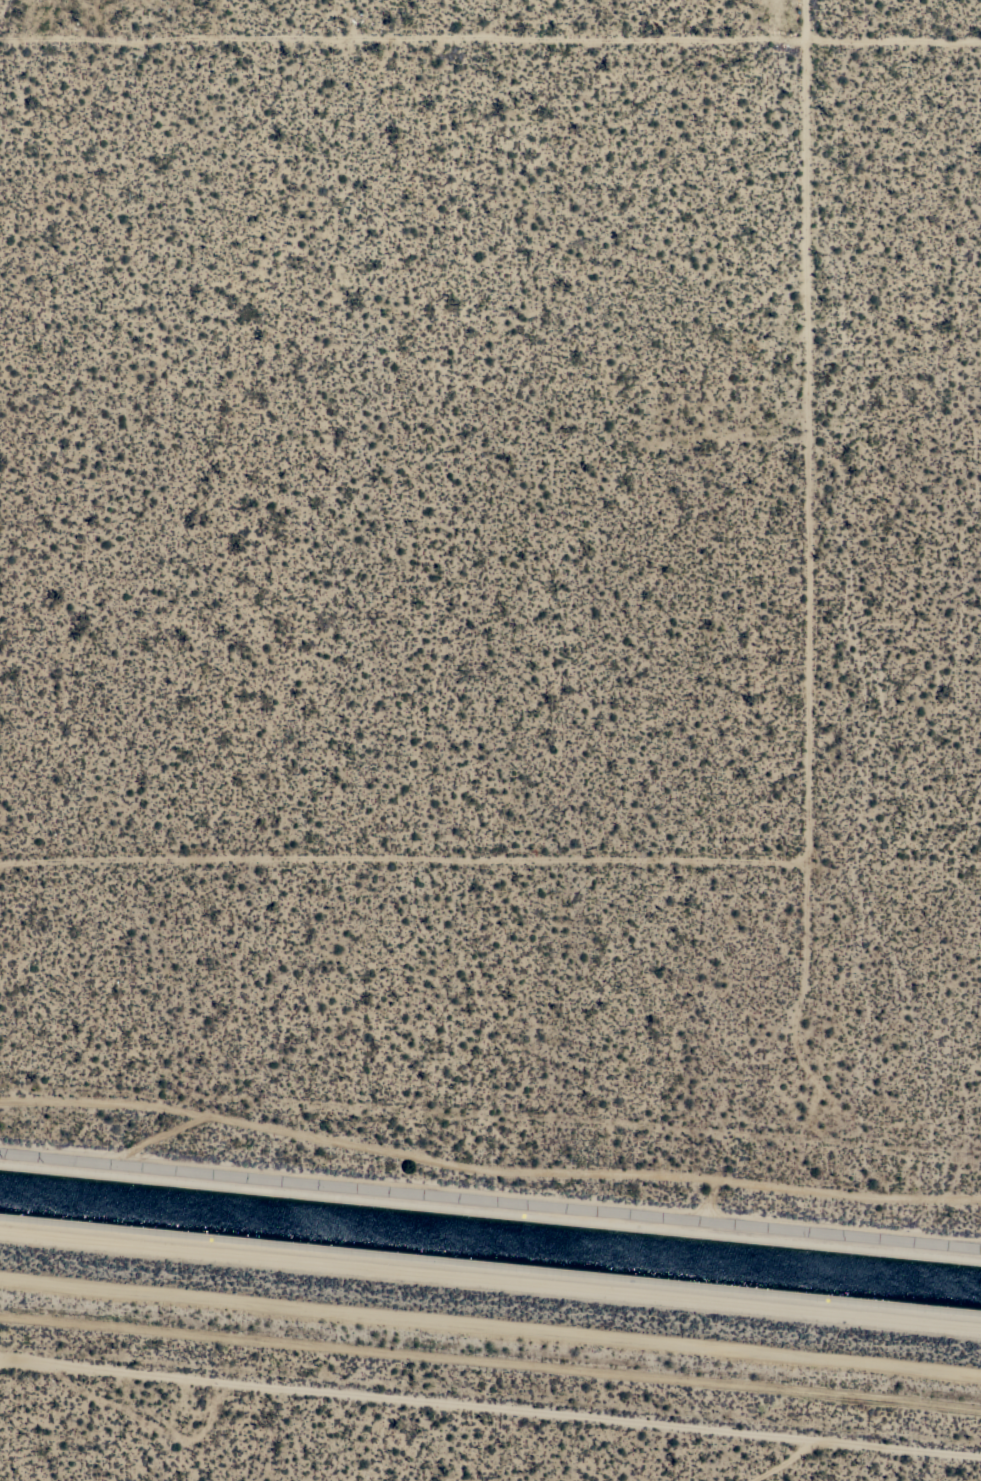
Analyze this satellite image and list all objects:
road: (490, 47)
road: (803, 833)
road: (487, 1168)
road: (490, 1406)

